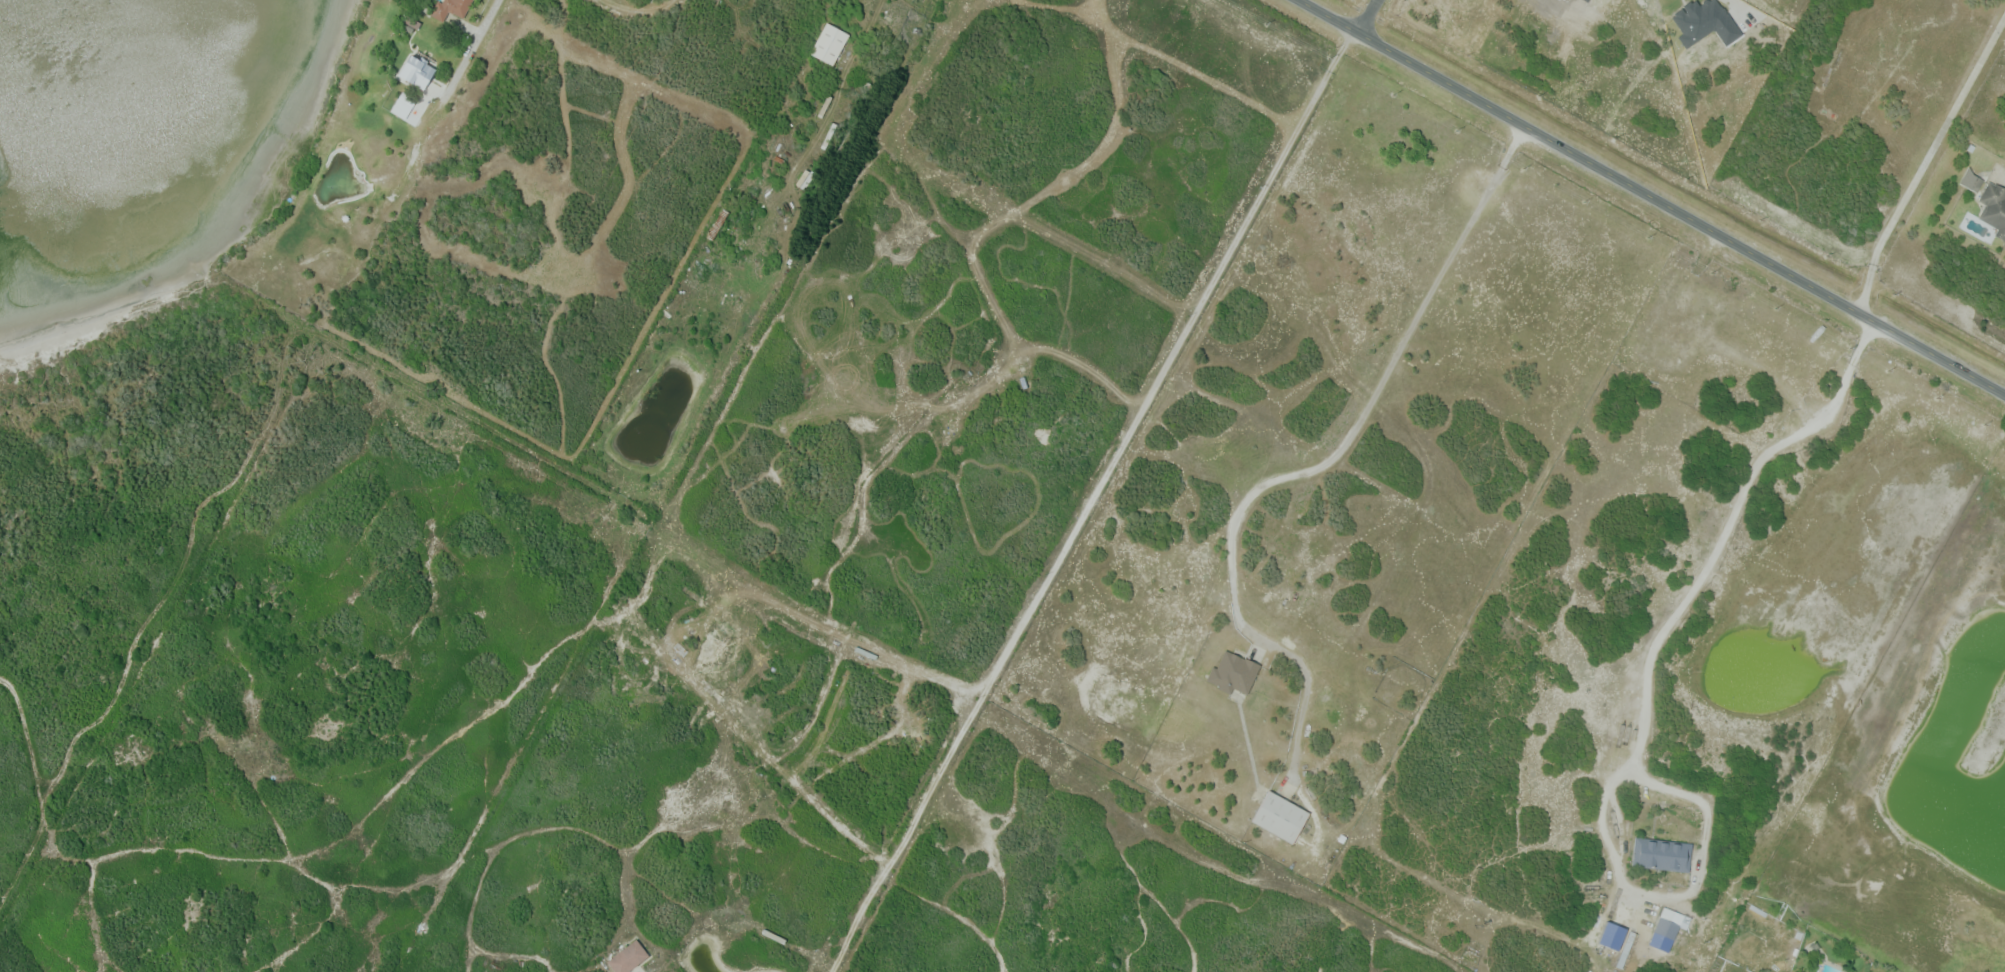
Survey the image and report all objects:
building: (452, 8)
road: (1742, 11)
road: (1367, 16)
building: (830, 43)
building: (420, 70)
building: (1974, 182)
road: (1652, 197)
building: (1994, 208)
building: (1234, 673)
road: (1643, 692)
building: (1280, 816)
building: (1662, 854)
building: (1667, 922)
building: (628, 957)

